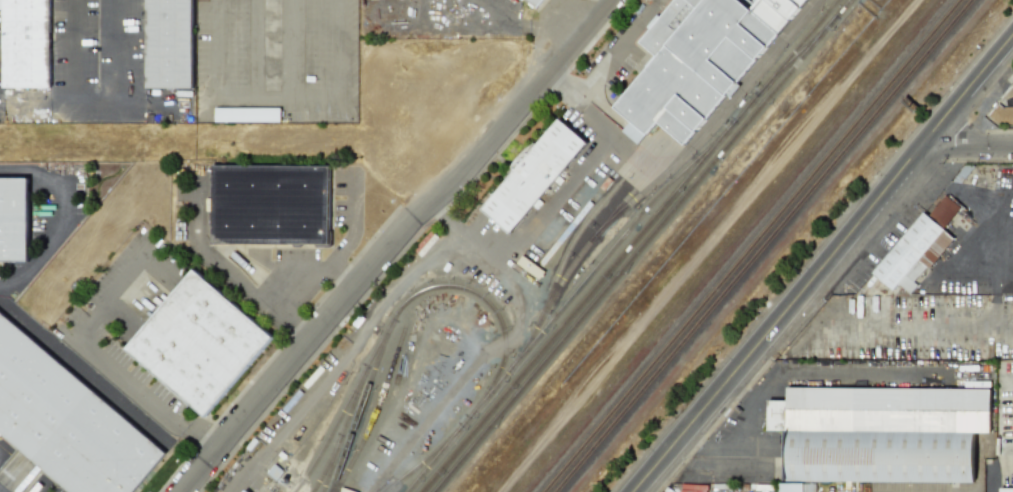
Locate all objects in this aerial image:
building: (537, 2)
road: (526, 27)
building: (28, 43)
building: (170, 43)
road: (257, 49)
road: (295, 49)
railway: (795, 54)
building: (697, 58)
parking lot: (99, 61)
road: (605, 62)
railway: (716, 63)
parking lot: (2, 66)
railway: (731, 68)
road: (279, 99)
road: (99, 107)
building: (248, 114)
building: (1002, 115)
railway: (711, 123)
road: (971, 144)
road: (922, 164)
building: (532, 175)
parking lot: (349, 196)
road: (972, 197)
parking lot: (193, 204)
building: (272, 204)
road: (539, 210)
building: (946, 211)
road: (52, 213)
railway: (586, 216)
building: (13, 219)
road: (890, 225)
road: (354, 235)
road: (393, 240)
railway: (626, 245)
railway: (638, 245)
road: (713, 245)
railway: (764, 245)
railway: (581, 246)
railway: (753, 246)
road: (333, 249)
building: (909, 251)
building: (928, 260)
road: (824, 263)
road: (968, 270)
road: (998, 270)
road: (223, 271)
road: (310, 290)
railway: (408, 295)
railway: (563, 300)
road: (921, 330)
building: (201, 342)
road: (87, 345)
road: (84, 374)
railway: (342, 405)
building: (890, 409)
railway: (373, 410)
building: (778, 415)
building: (68, 421)
railway: (341, 427)
road: (200, 439)
building: (881, 456)
railway: (422, 457)
railway: (325, 463)
building: (792, 487)
building: (811, 488)
building: (241, 490)
building: (346, 490)
building: (1007, 490)
building: (244, 491)

